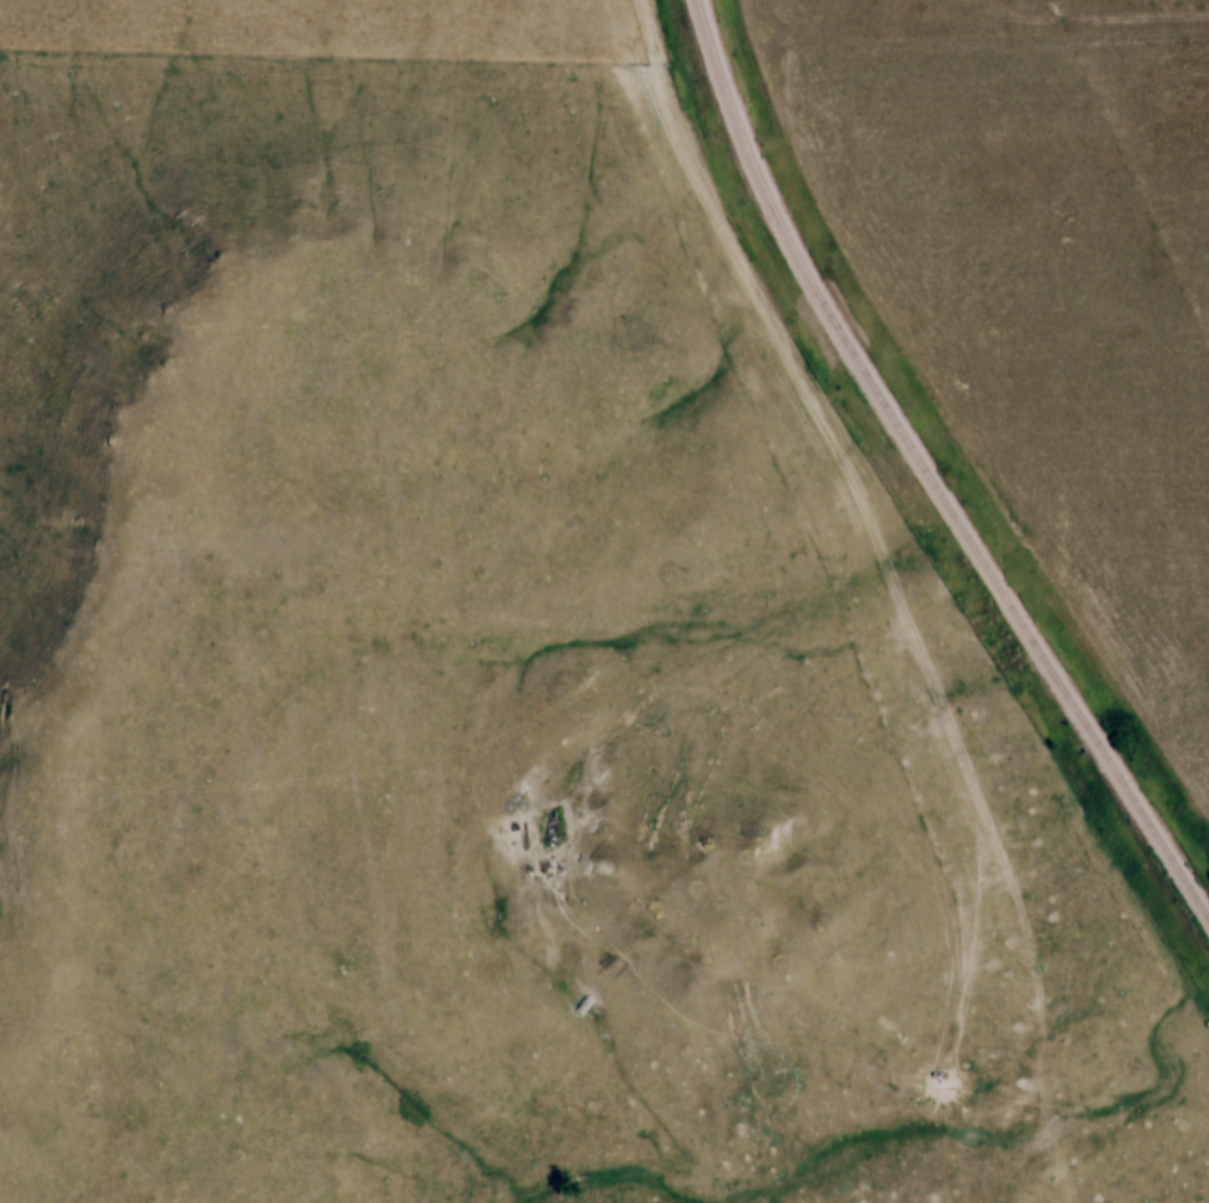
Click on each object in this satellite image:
railway: (925, 481)

